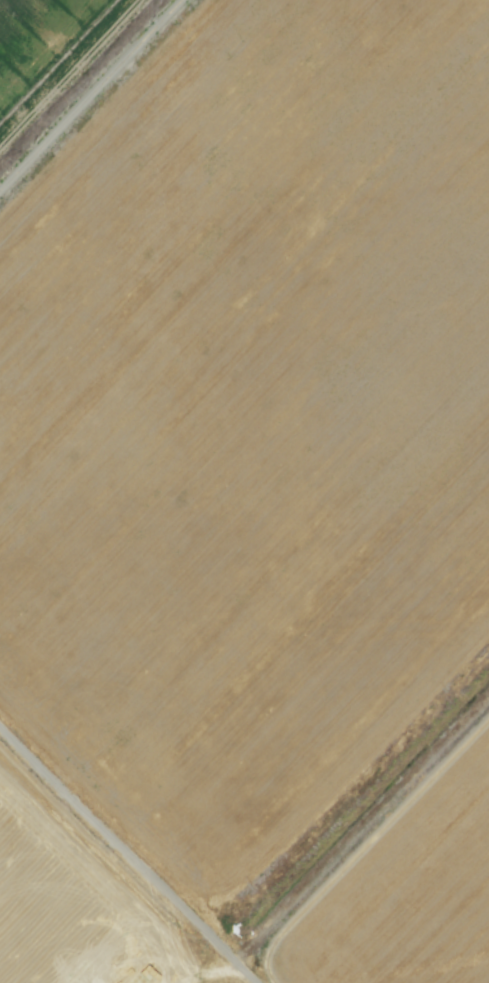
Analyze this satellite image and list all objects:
road: (84, 92)
road: (130, 853)

